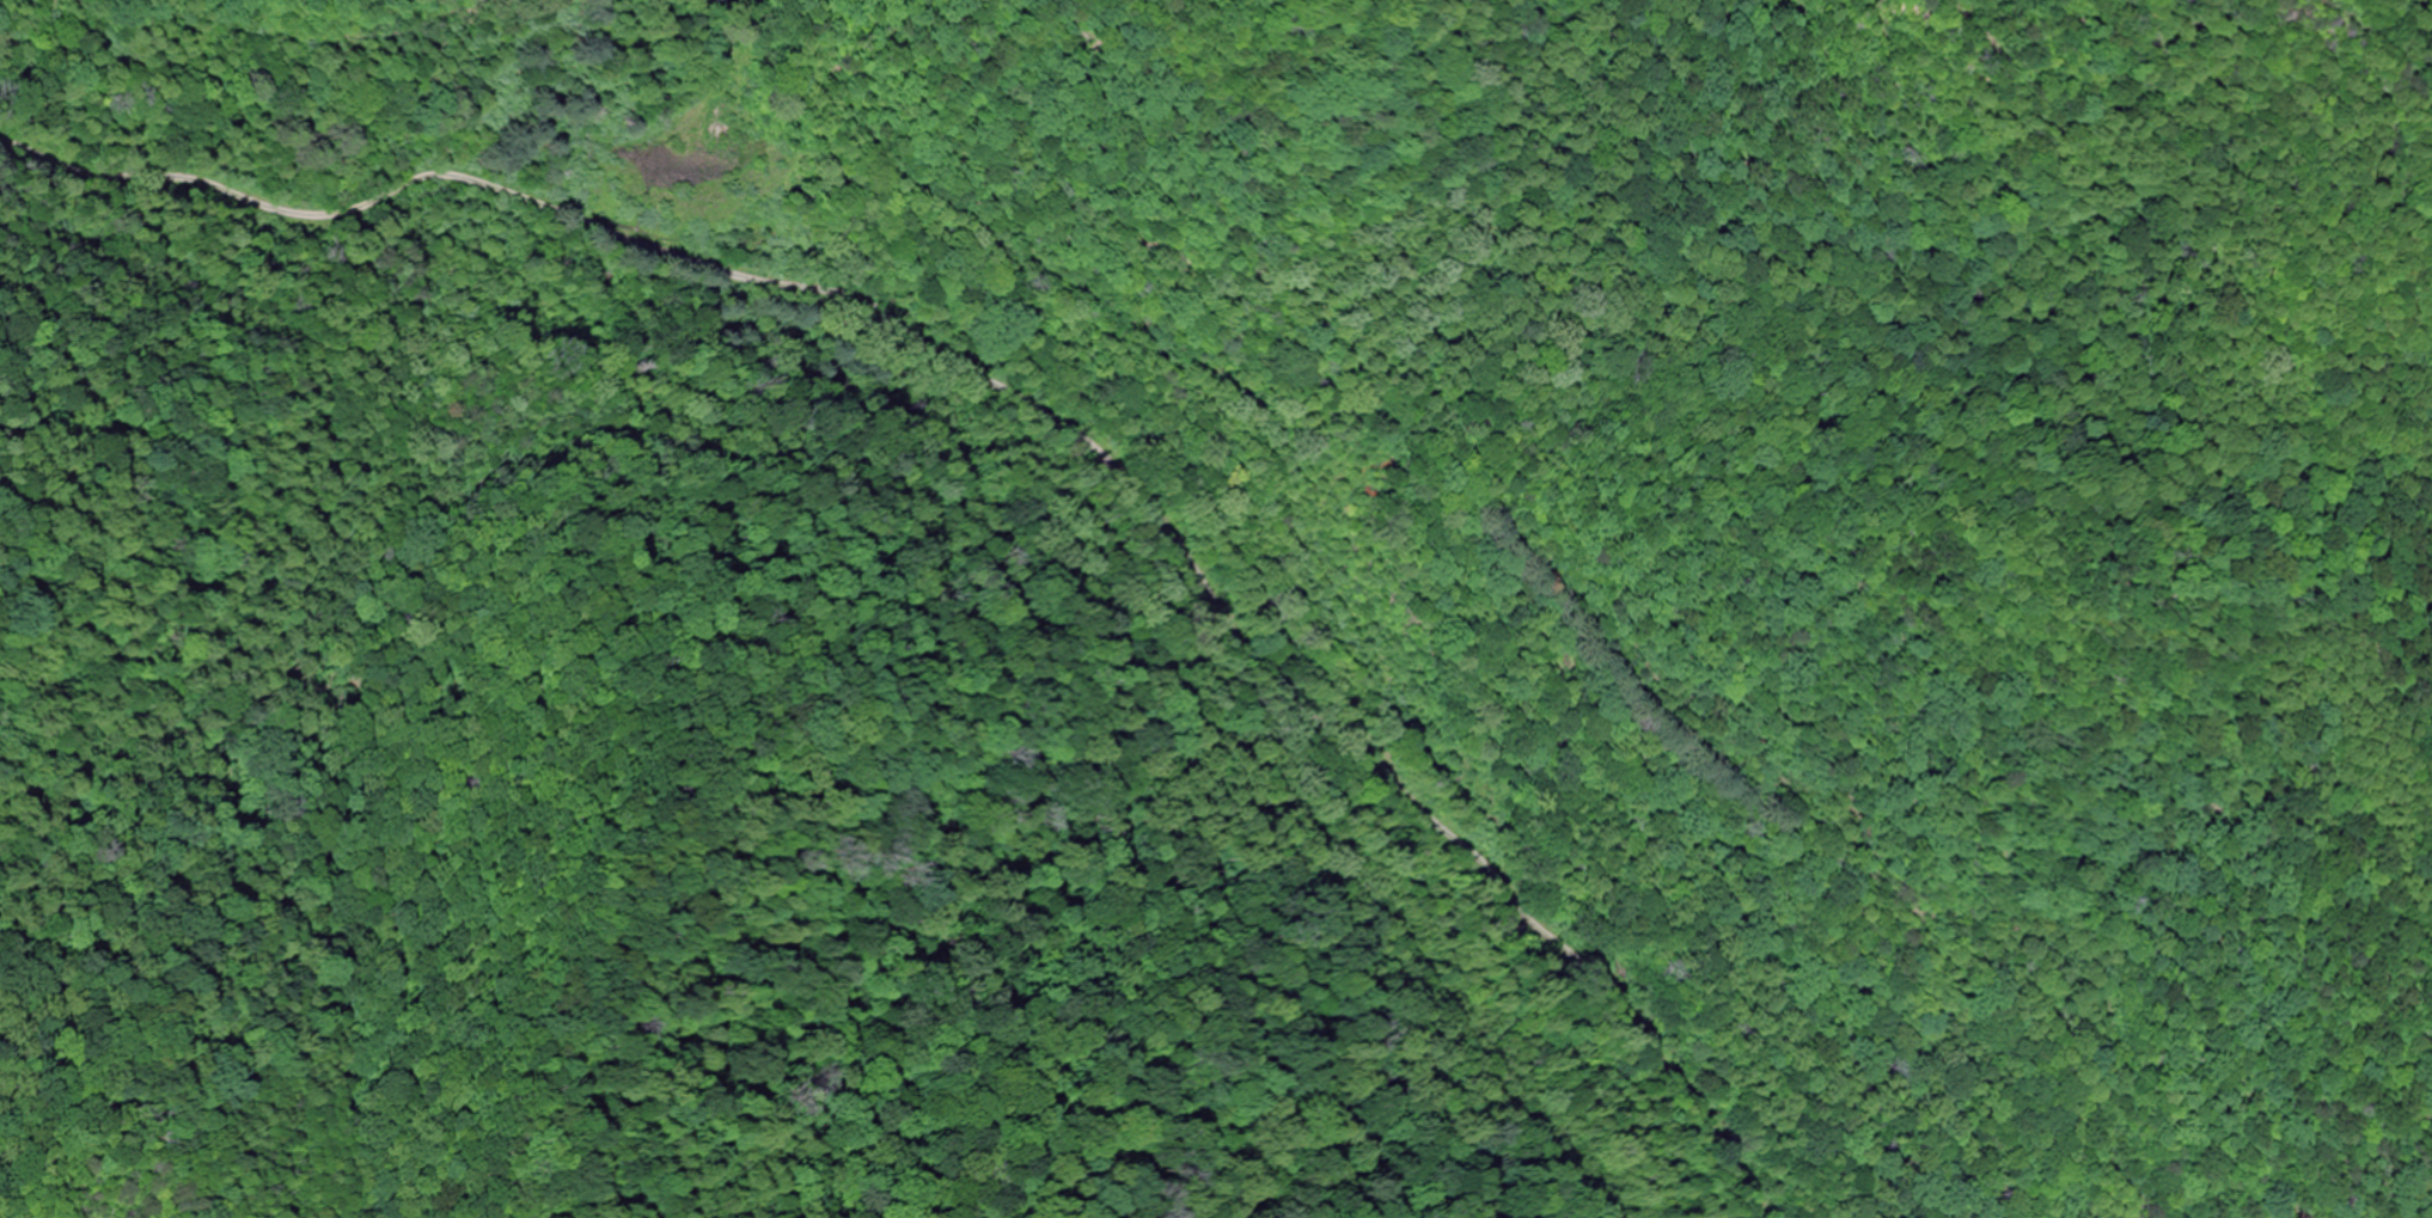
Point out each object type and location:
road: (845, 292)
road: (1642, 1036)

